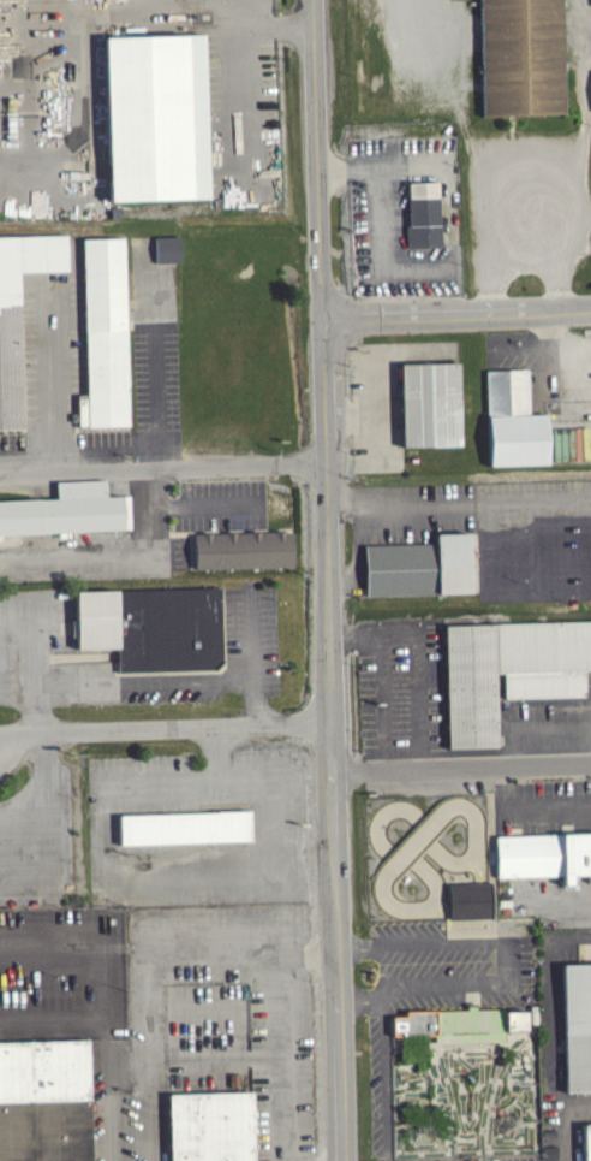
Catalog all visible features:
road: (174, 12)
road: (587, 30)
building: (519, 59)
road: (239, 72)
building: (155, 117)
road: (578, 155)
road: (412, 162)
road: (382, 218)
road: (496, 219)
building: (423, 220)
building: (165, 254)
building: (19, 312)
road: (458, 312)
road: (549, 327)
building: (103, 333)
road: (523, 344)
road: (376, 374)
parking lot: (387, 396)
building: (434, 403)
road: (352, 414)
building: (517, 420)
road: (163, 468)
road: (201, 503)
road: (460, 503)
building: (66, 510)
road: (590, 529)
road: (542, 546)
building: (241, 549)
road: (488, 549)
road: (356, 553)
road: (117, 558)
building: (422, 565)
road: (329, 580)
building: (154, 626)
road: (252, 661)
road: (34, 668)
building: (509, 670)
road: (144, 681)
parking lot: (401, 683)
road: (423, 718)
road: (166, 727)
road: (216, 754)
road: (462, 766)
road: (160, 787)
road: (544, 807)
road: (49, 821)
building: (187, 827)
building: (544, 855)
road: (220, 872)
building: (470, 900)
building: (584, 958)
road: (515, 961)
parking lot: (446, 962)
road: (150, 987)
road: (95, 1009)
building: (459, 1023)
building: (577, 1025)
road: (287, 1037)
road: (384, 1073)
building: (44, 1101)
road: (565, 1121)
building: (213, 1126)
parking lot: (562, 1129)
building: (586, 1142)
parking lot: (479, 1157)

